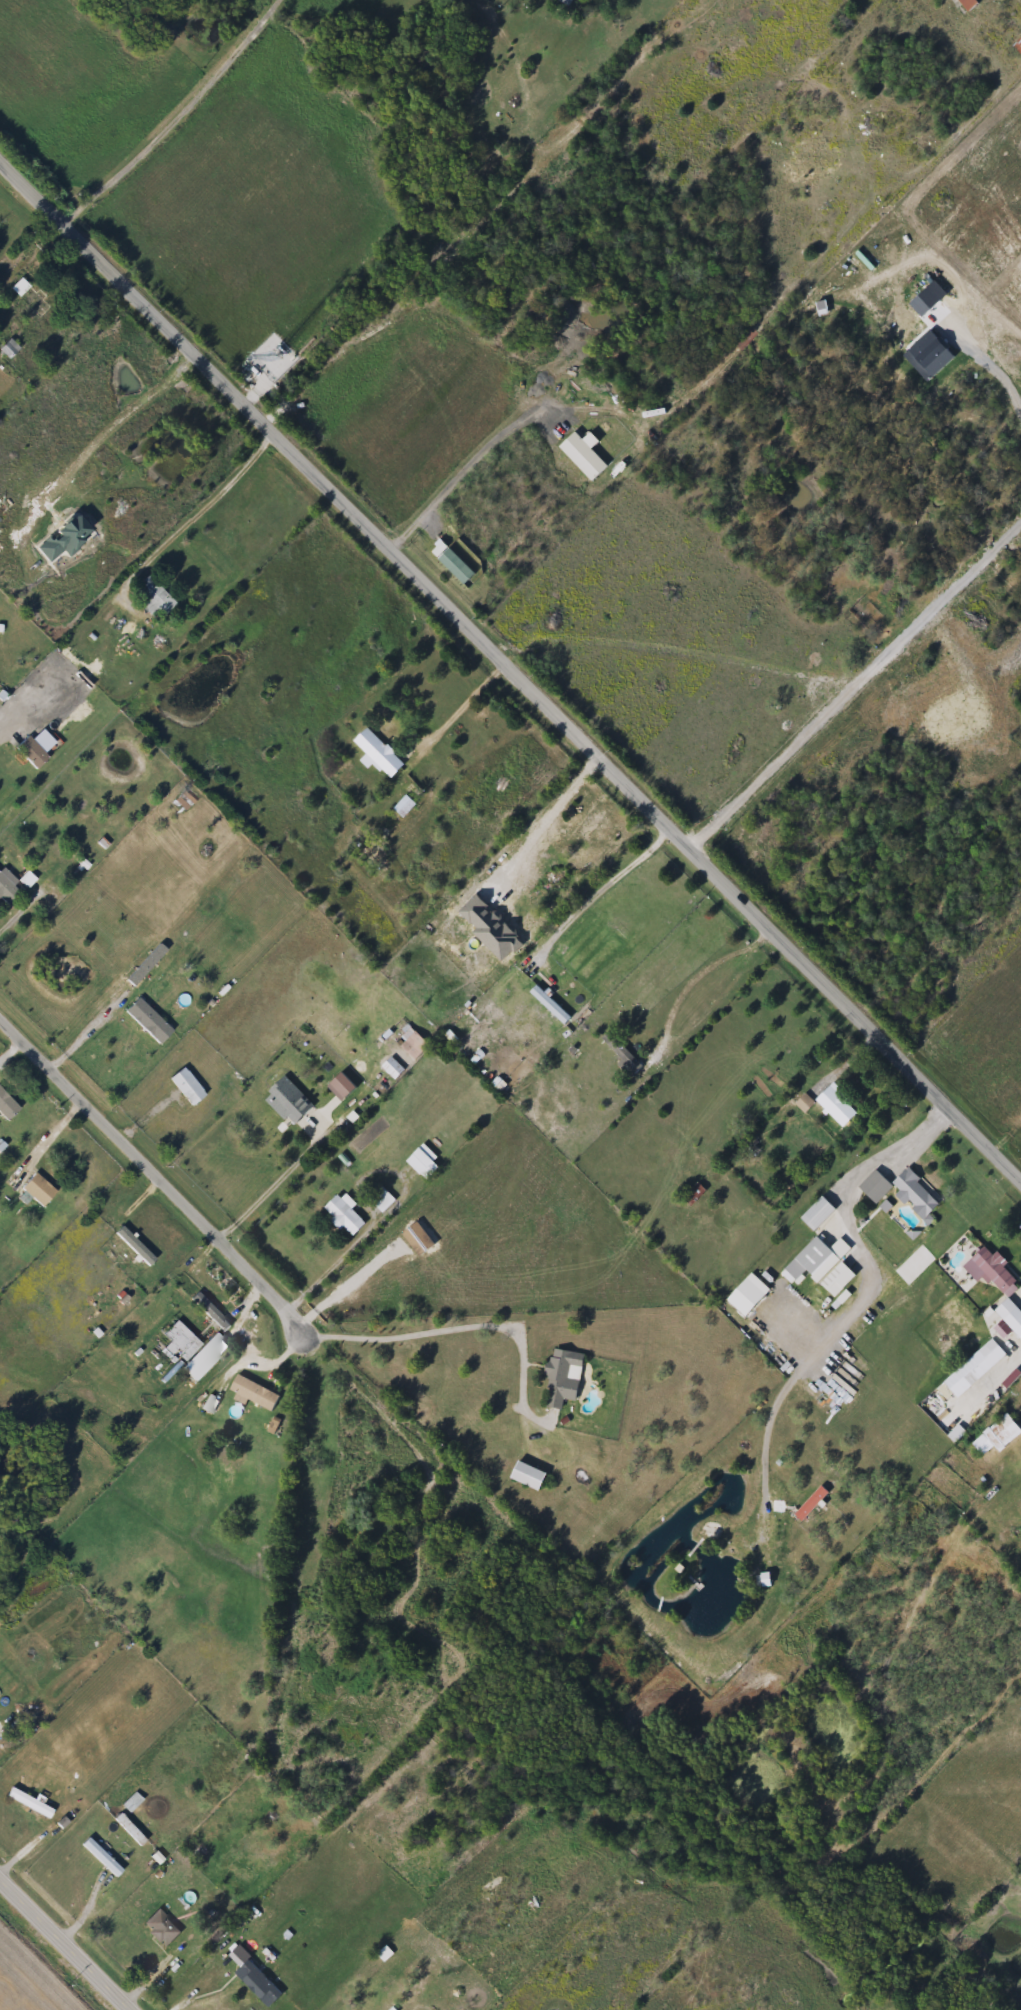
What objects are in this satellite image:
building: (566, 2)
building: (967, 5)
road: (176, 120)
building: (926, 145)
building: (813, 155)
road: (30, 247)
building: (29, 299)
road: (993, 360)
road: (111, 430)
road: (461, 473)
road: (194, 509)
building: (151, 599)
road: (514, 669)
road: (855, 682)
road: (461, 698)
road: (1, 720)
building: (32, 740)
building: (376, 752)
road: (543, 817)
building: (371, 852)
road: (592, 886)
building: (12, 887)
road: (682, 982)
building: (549, 1006)
building: (147, 1023)
building: (410, 1043)
building: (619, 1054)
road: (49, 1062)
road: (834, 1066)
building: (837, 1104)
building: (291, 1112)
building: (265, 1132)
road: (46, 1136)
road: (1006, 1138)
road: (303, 1156)
building: (421, 1164)
road: (153, 1171)
building: (38, 1190)
building: (899, 1190)
building: (382, 1200)
building: (816, 1214)
building: (344, 1216)
building: (133, 1246)
road: (353, 1251)
building: (824, 1267)
building: (994, 1269)
road: (236, 1300)
road: (401, 1330)
building: (176, 1344)
building: (563, 1378)
building: (256, 1393)
road: (385, 1410)
building: (998, 1437)
building: (527, 1476)
building: (763, 1581)
building: (30, 1804)
building: (130, 1831)
building: (161, 1929)
road: (65, 1943)
road: (145, 1975)
building: (262, 1981)

